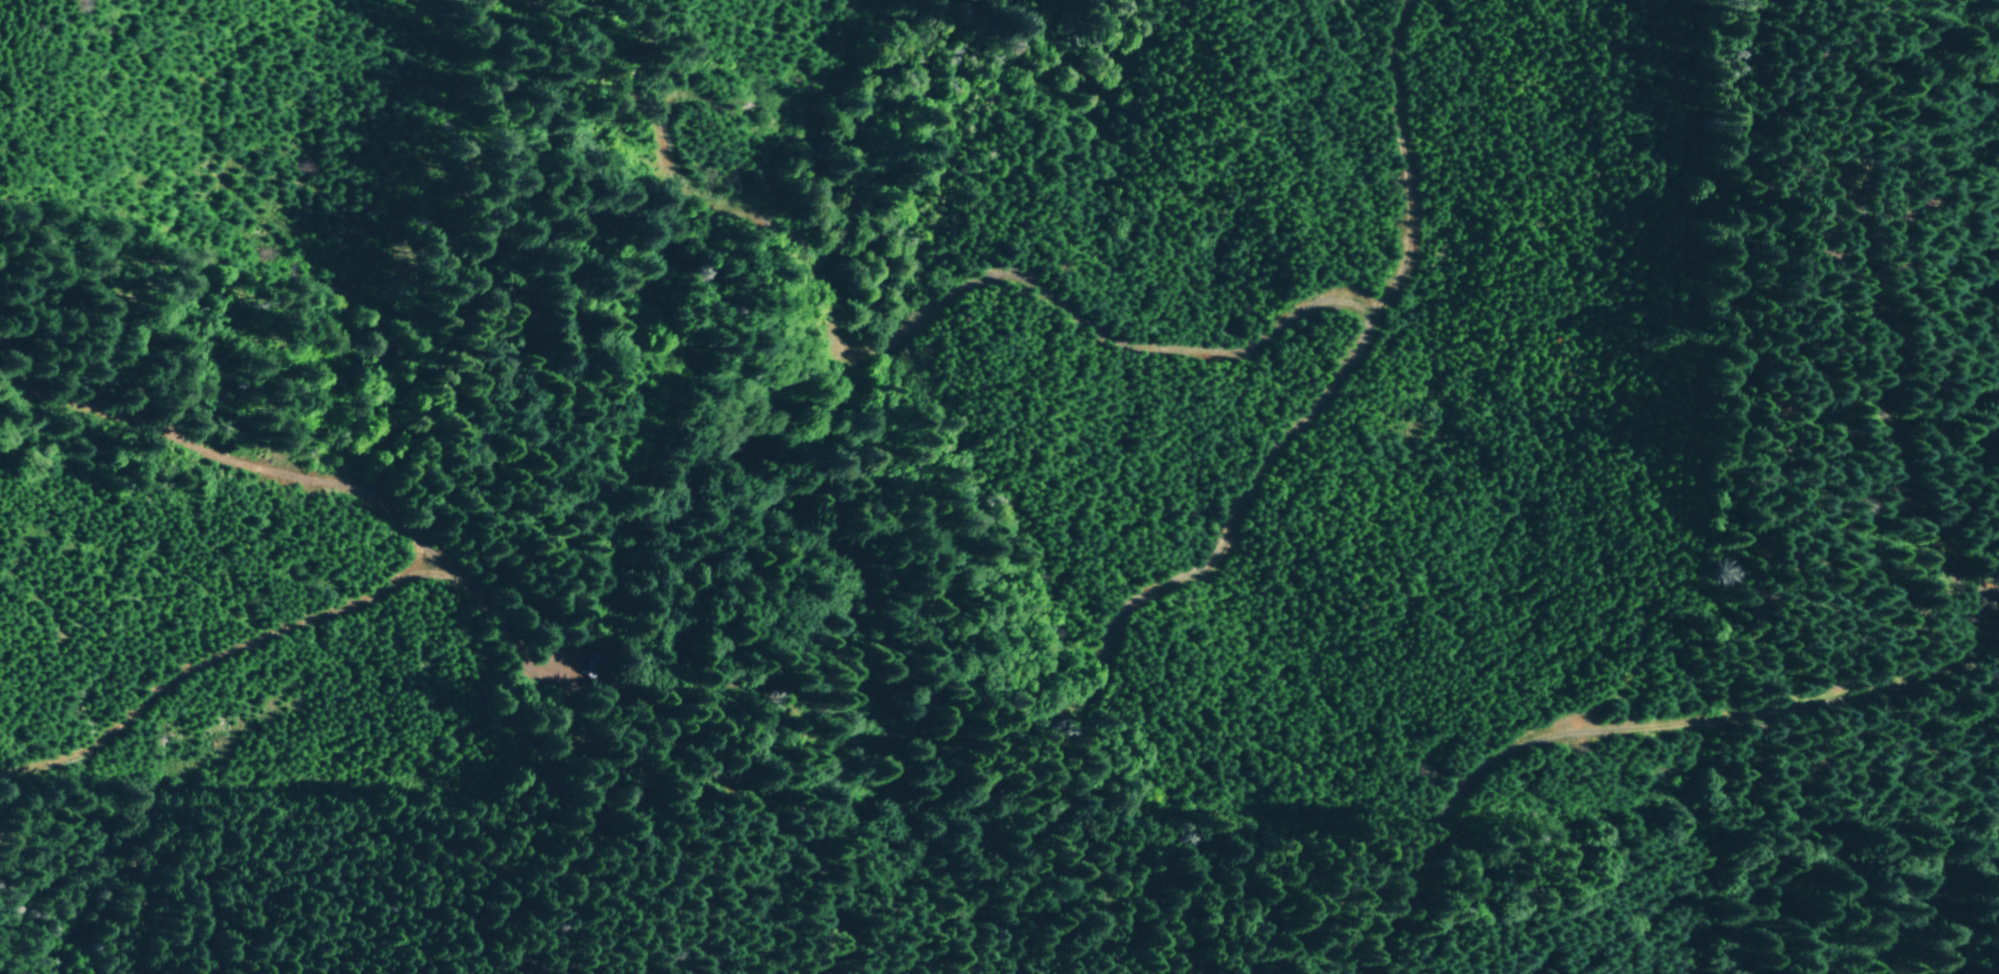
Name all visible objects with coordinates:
road: (1029, 288)
road: (406, 530)
road: (1203, 670)
road: (213, 694)
road: (41, 773)
road: (742, 861)
road: (1460, 967)

